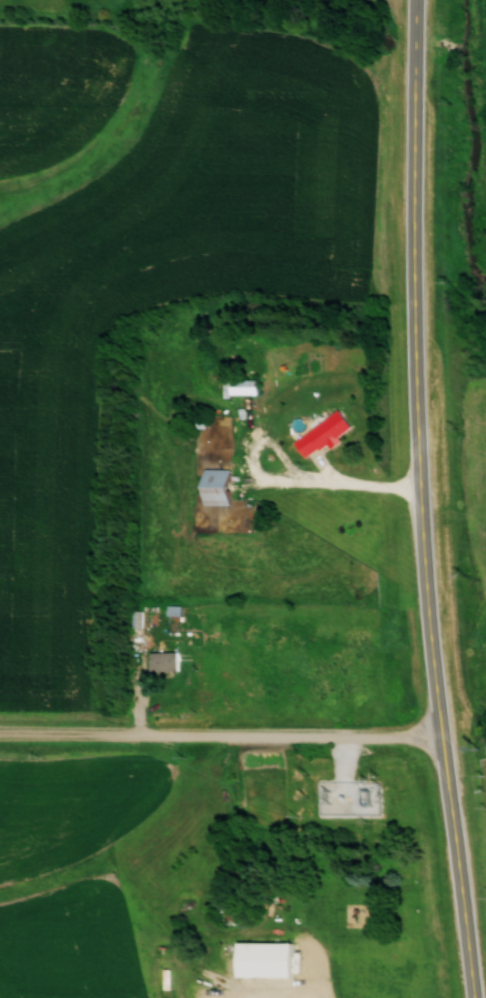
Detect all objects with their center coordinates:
building: (243, 385)
building: (323, 433)
road: (364, 485)
road: (421, 500)
building: (163, 659)
road: (224, 736)
building: (262, 957)

